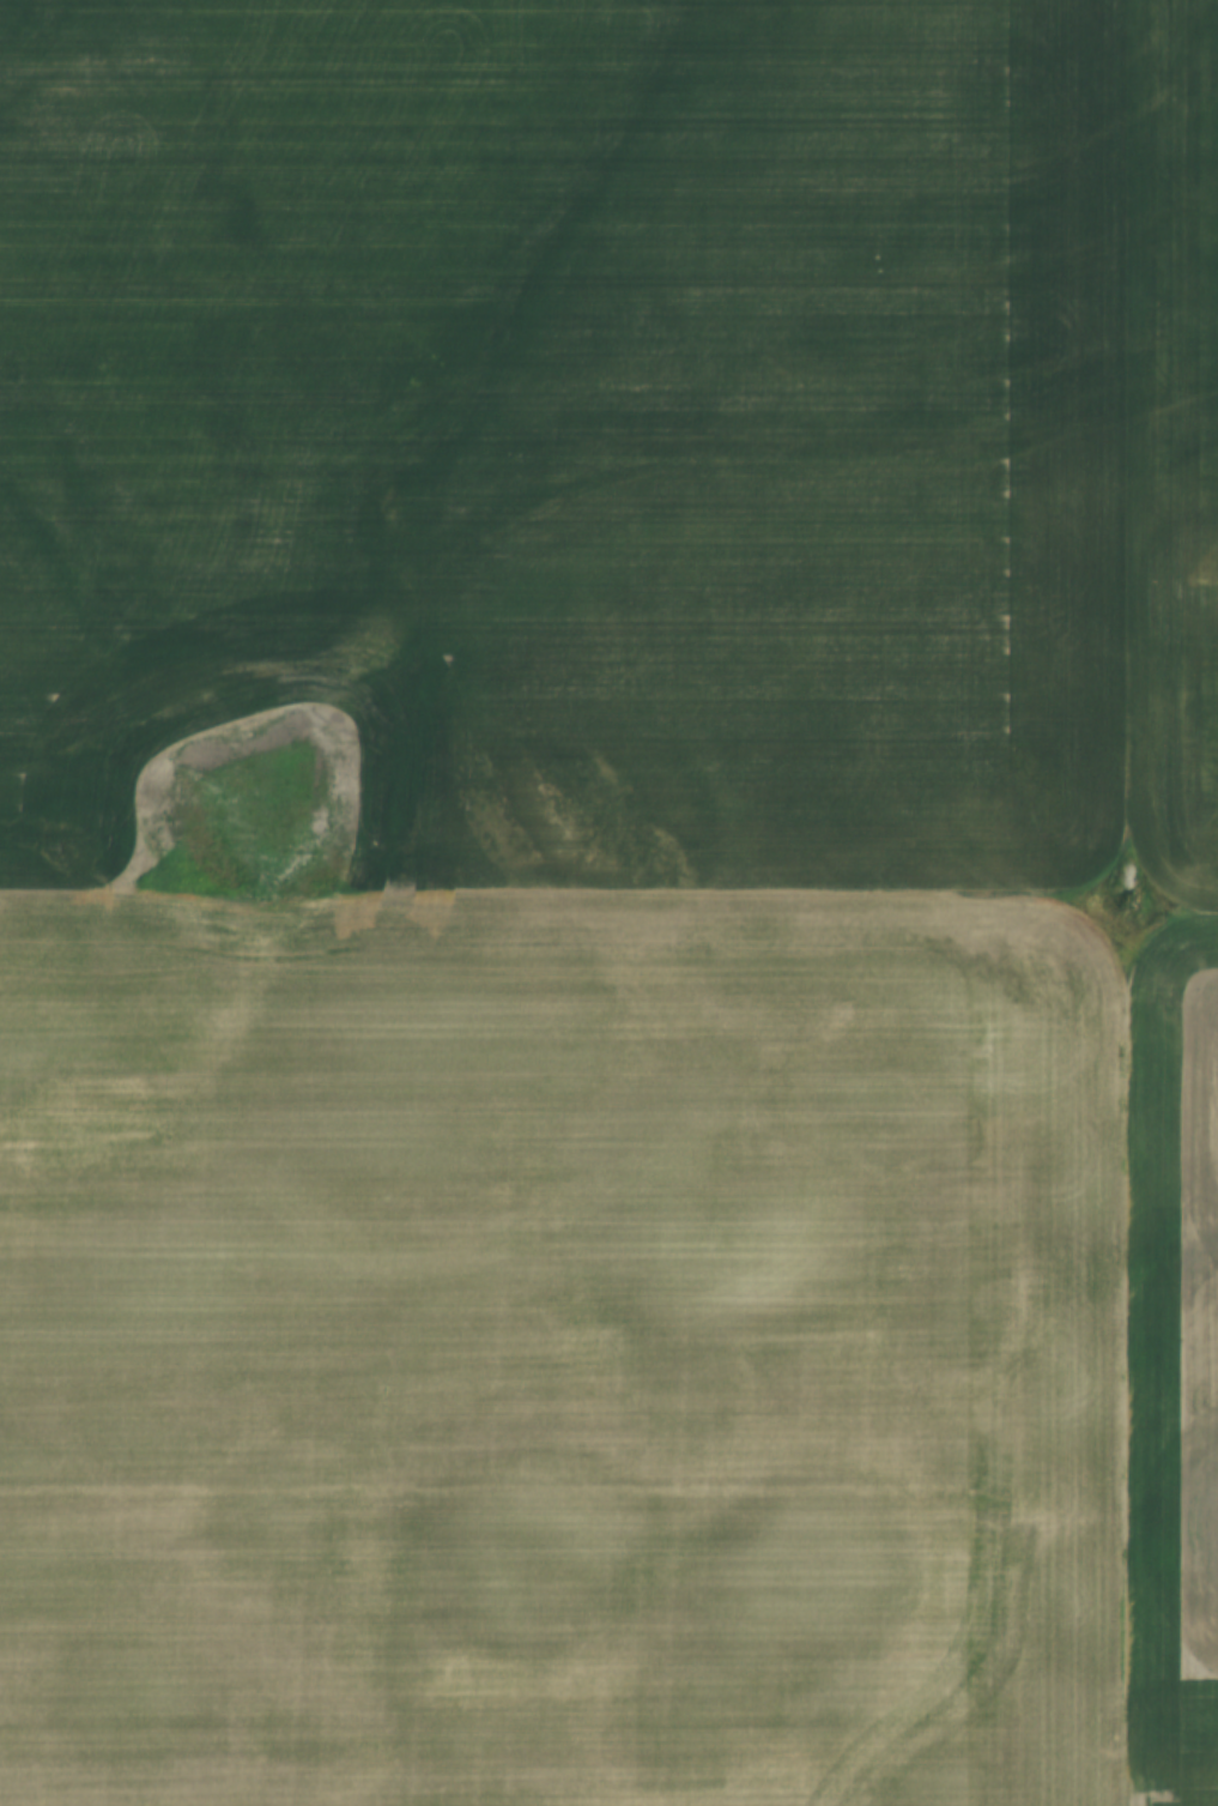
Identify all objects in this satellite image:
road: (1126, 902)

